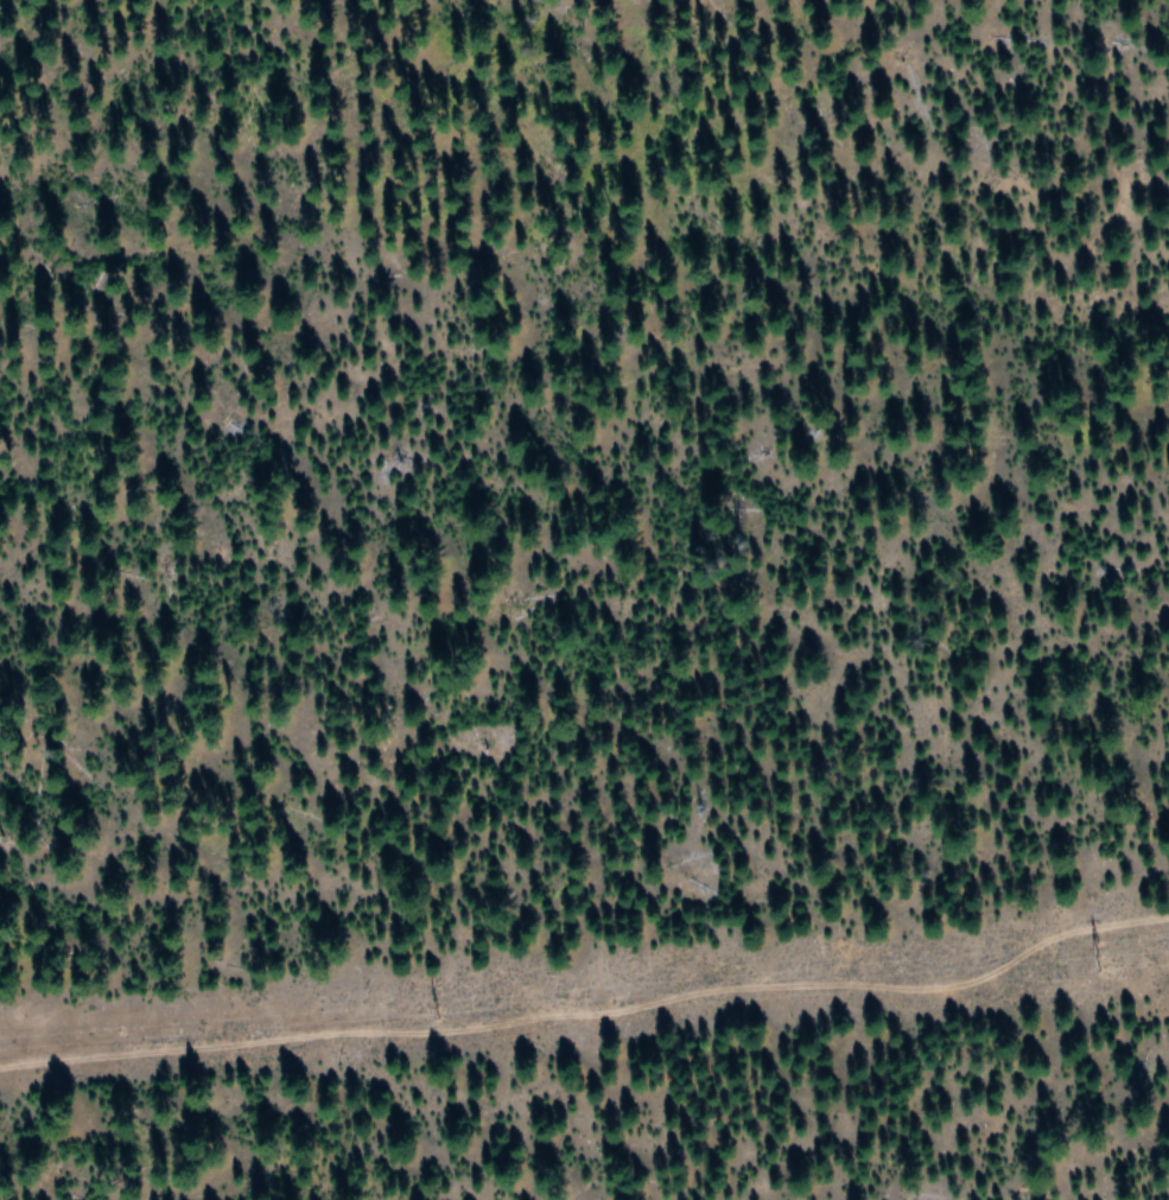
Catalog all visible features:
power tower: (1103, 954)
power tower: (438, 1007)

